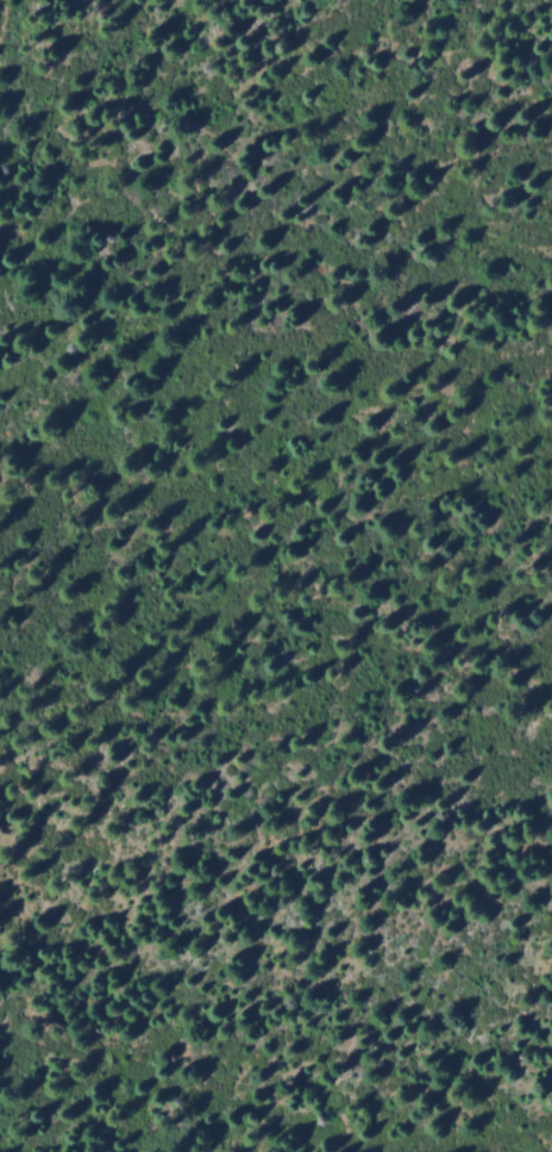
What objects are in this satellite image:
road: (2, 13)

